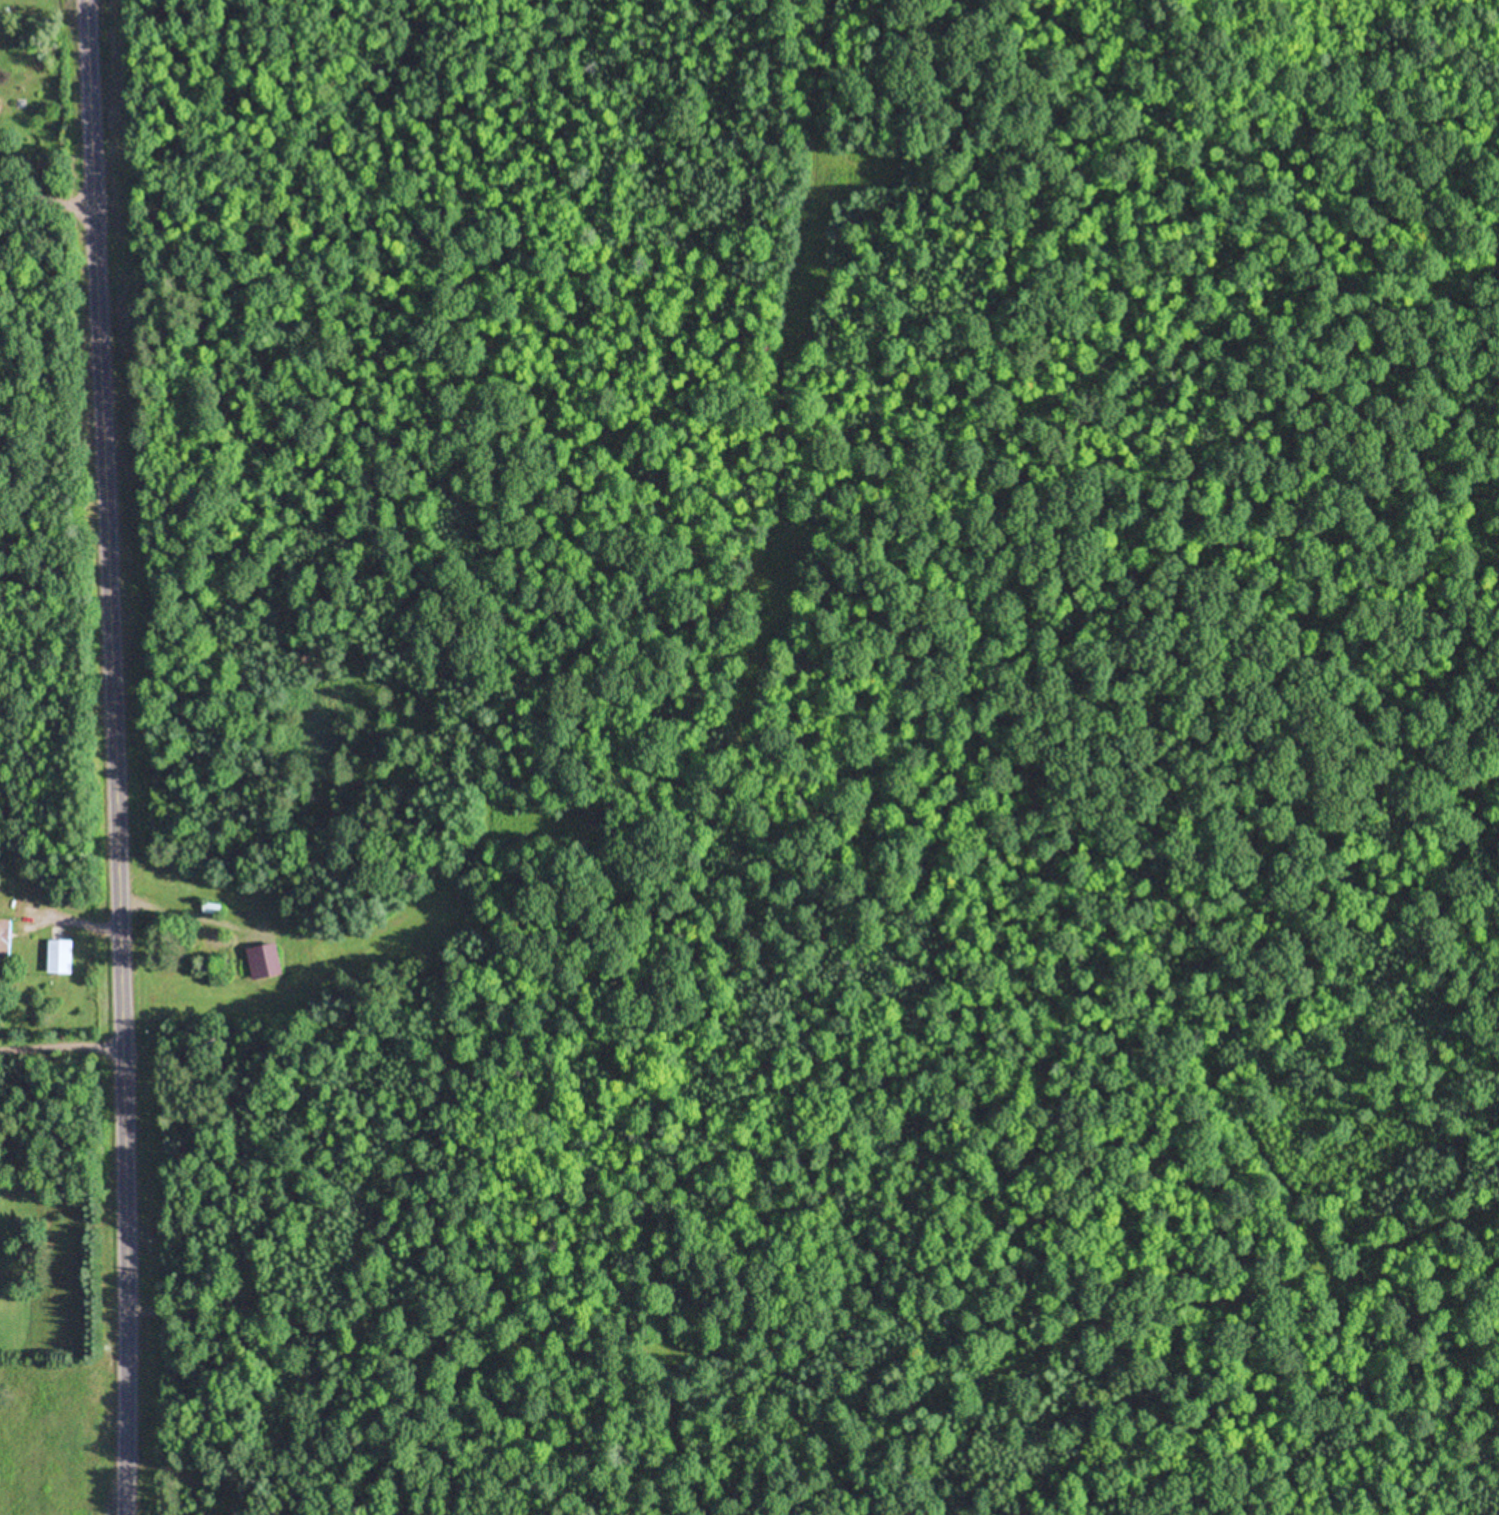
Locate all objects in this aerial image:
road: (129, 757)
building: (213, 910)
building: (282, 918)
building: (214, 940)
building: (7, 941)
building: (63, 957)

